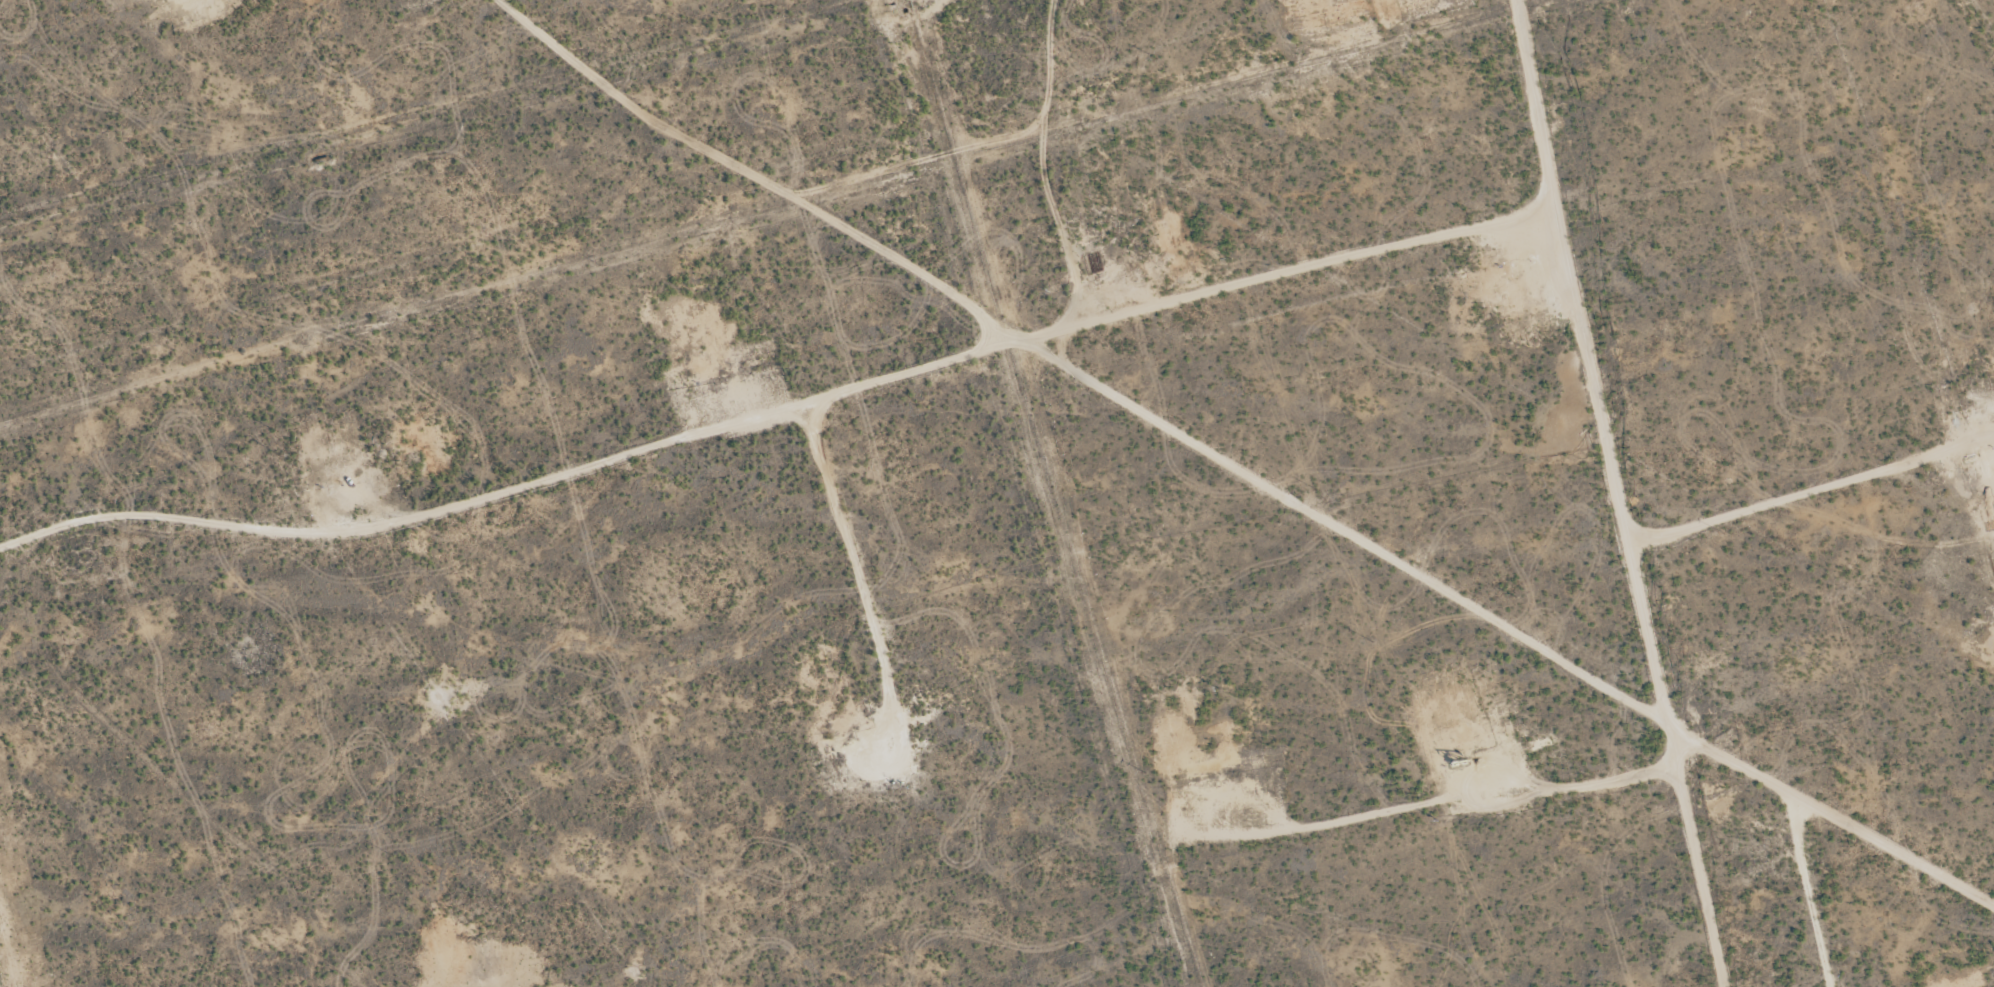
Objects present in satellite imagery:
road: (1255, 443)

